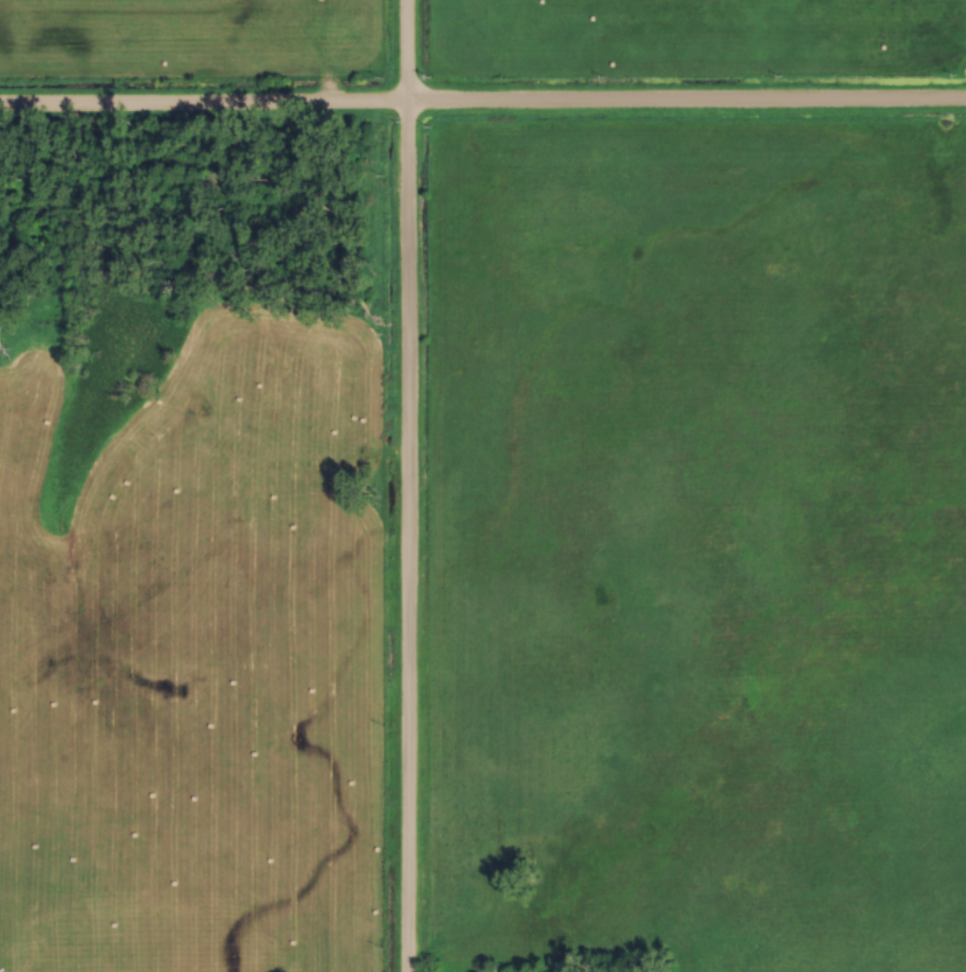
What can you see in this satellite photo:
road: (482, 100)
road: (408, 486)

